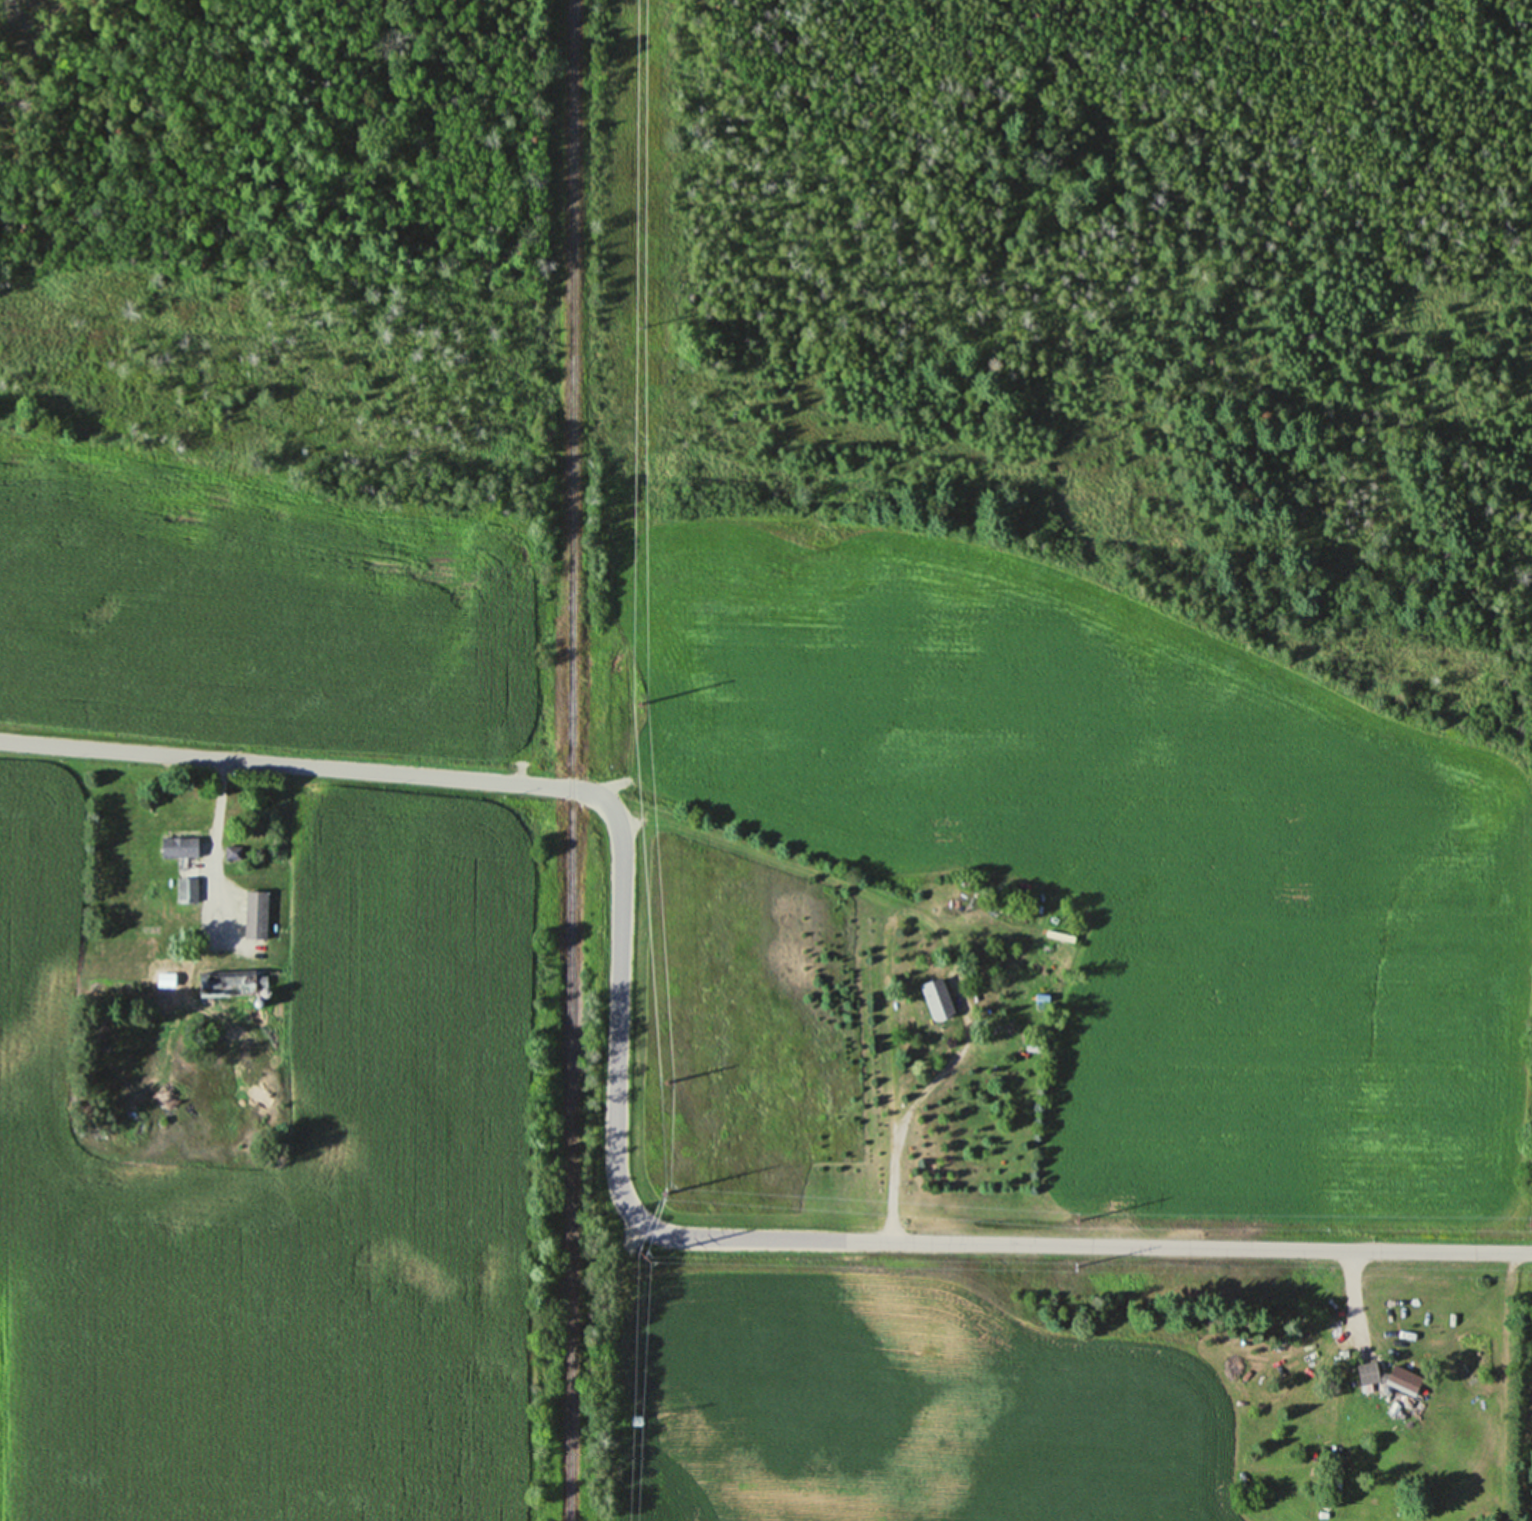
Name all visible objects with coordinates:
power tower: (637, 326)
power tower: (634, 709)
railway: (570, 760)
road: (217, 816)
building: (178, 848)
building: (230, 852)
building: (186, 891)
building: (262, 904)
building: (223, 987)
building: (936, 999)
power tower: (661, 1082)
road: (895, 1130)
road: (614, 1158)
power tower: (657, 1192)
power tower: (1073, 1217)
power tower: (1527, 1221)
power tower: (640, 1255)
power tower: (1070, 1262)
power tower: (1531, 1269)
road: (1351, 1287)
building: (1388, 1376)
power tower: (636, 1420)

